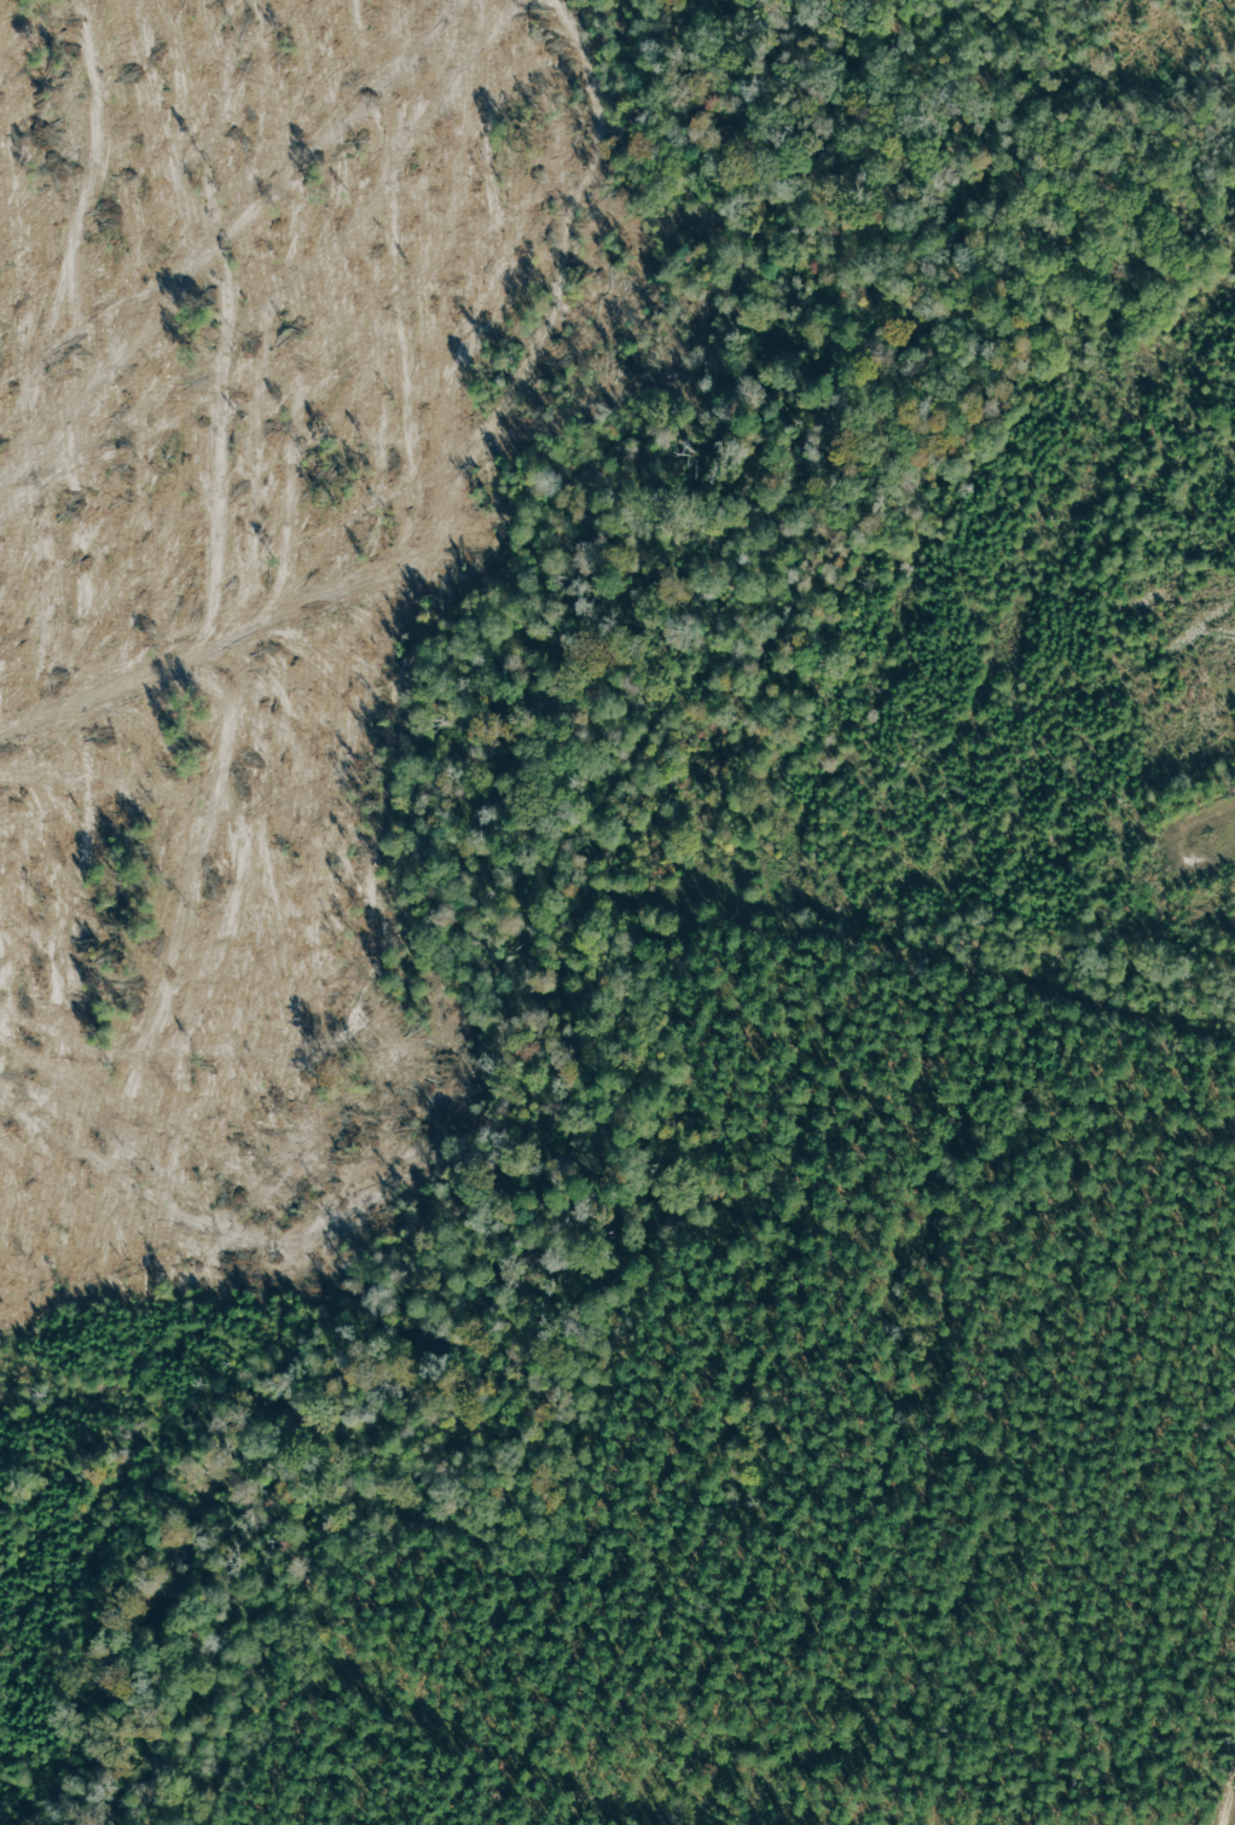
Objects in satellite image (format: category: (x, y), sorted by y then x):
road: (1233, 1819)

